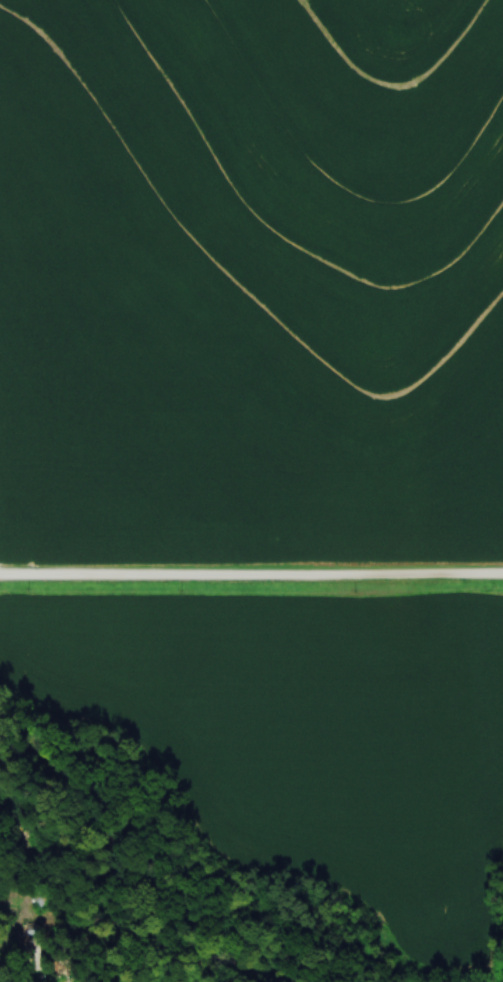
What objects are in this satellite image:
road: (251, 577)

